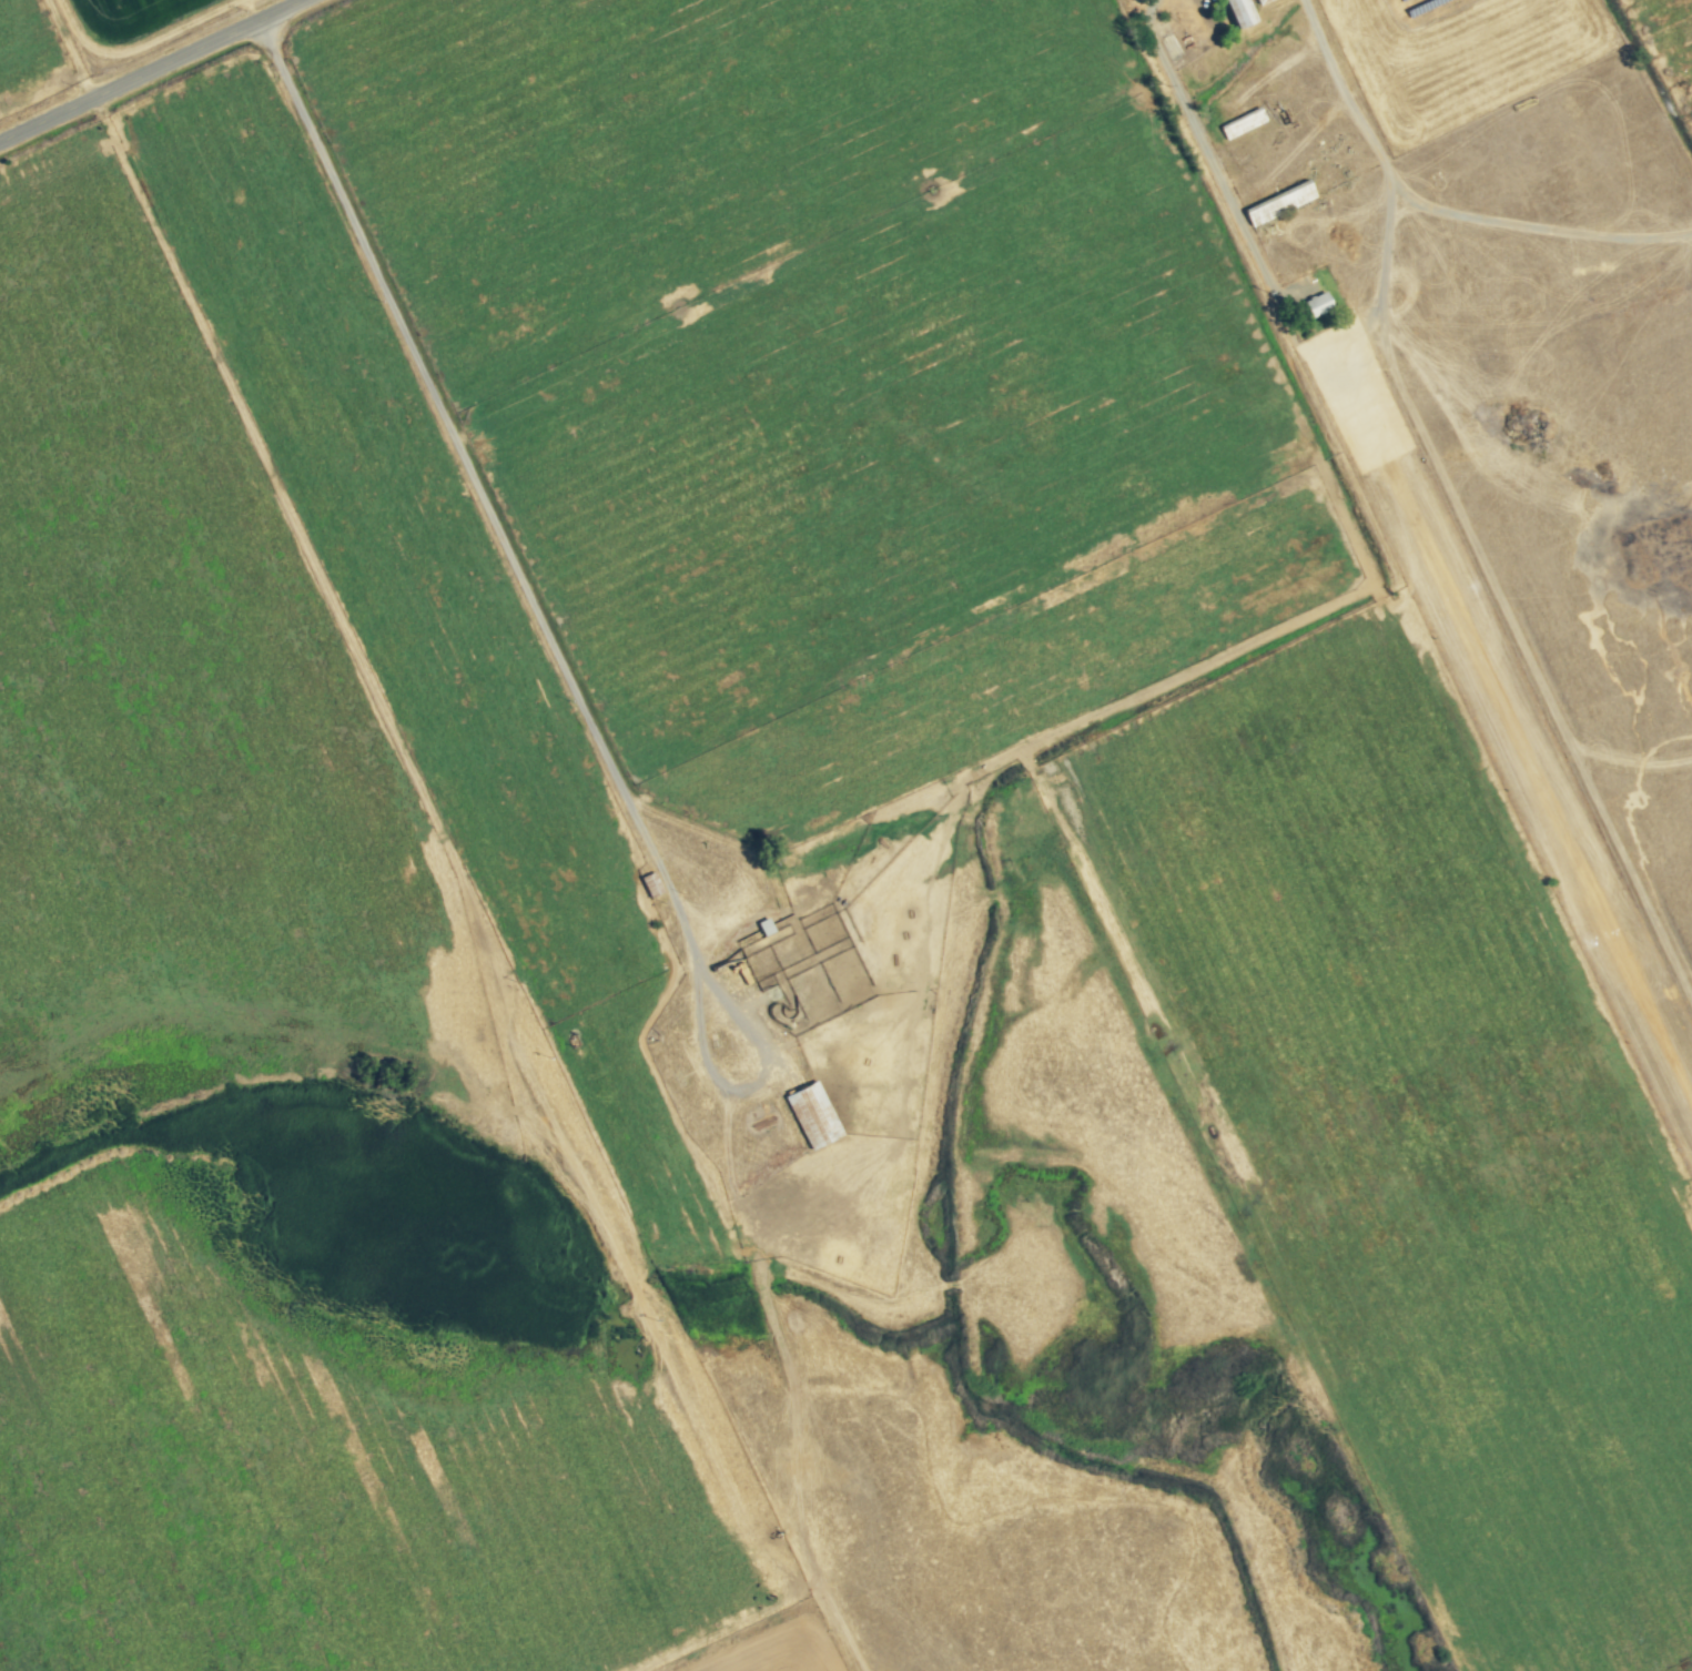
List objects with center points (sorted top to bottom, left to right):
building: (1235, 12)
road: (152, 70)
road: (1208, 156)
road: (1540, 225)
building: (1314, 305)
road: (1458, 504)
road: (493, 516)
building: (810, 1115)

